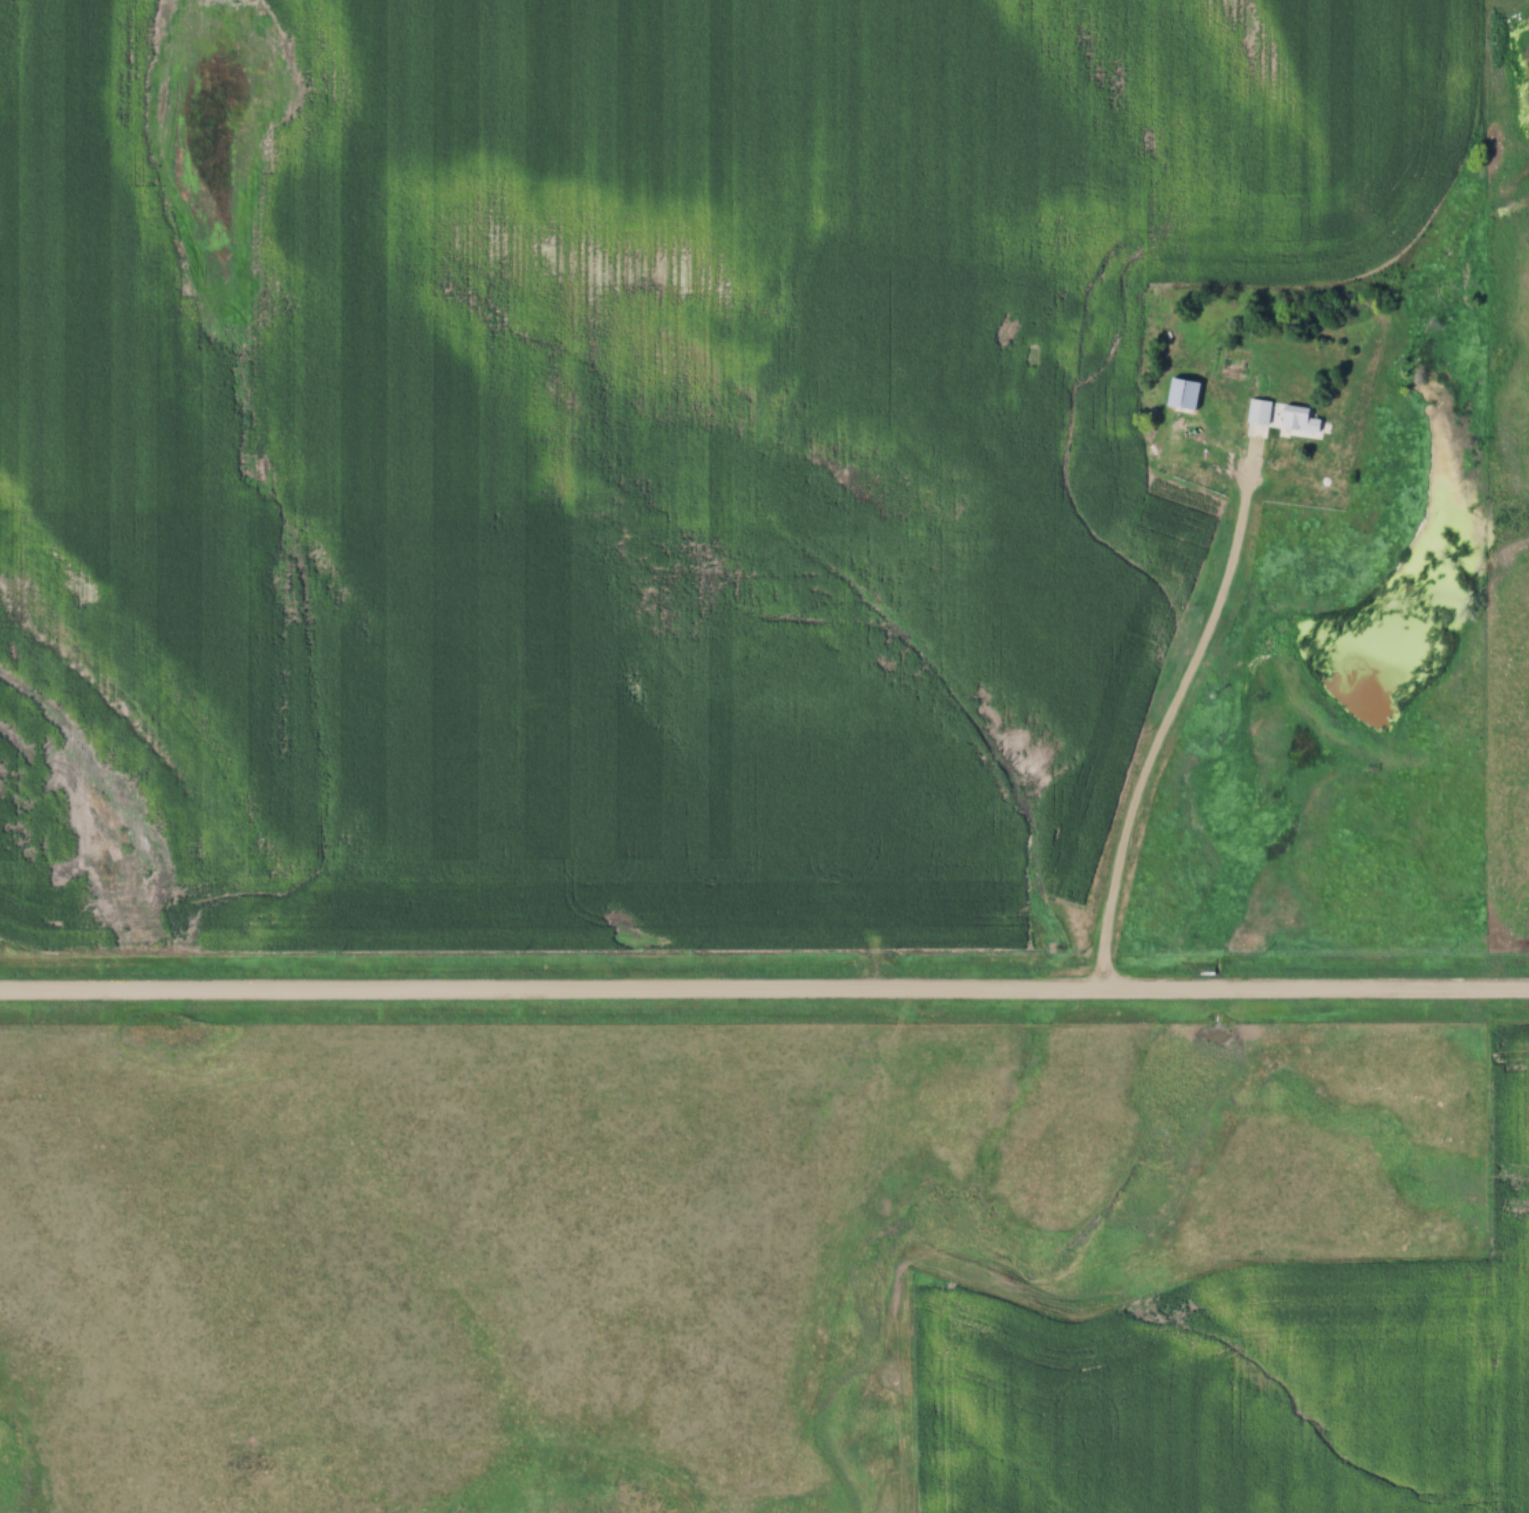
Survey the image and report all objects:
building: (1182, 393)
building: (1216, 408)
building: (1283, 418)
building: (1109, 495)
road: (1161, 737)
road: (764, 990)

